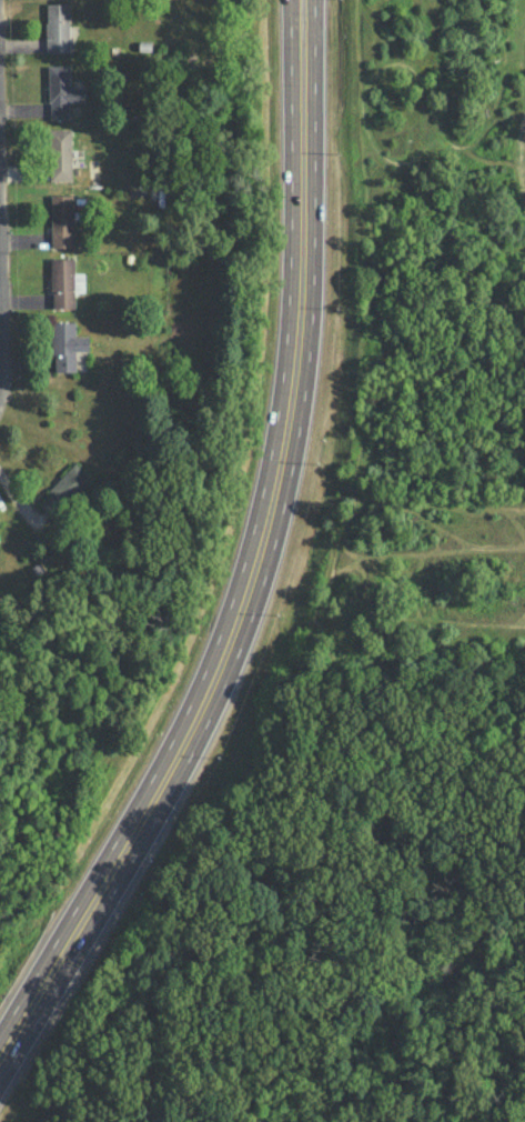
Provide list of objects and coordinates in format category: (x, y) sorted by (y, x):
building: (58, 27)
building: (62, 91)
building: (60, 153)
building: (62, 220)
building: (64, 282)
building: (67, 344)
building: (64, 491)
road: (260, 558)

